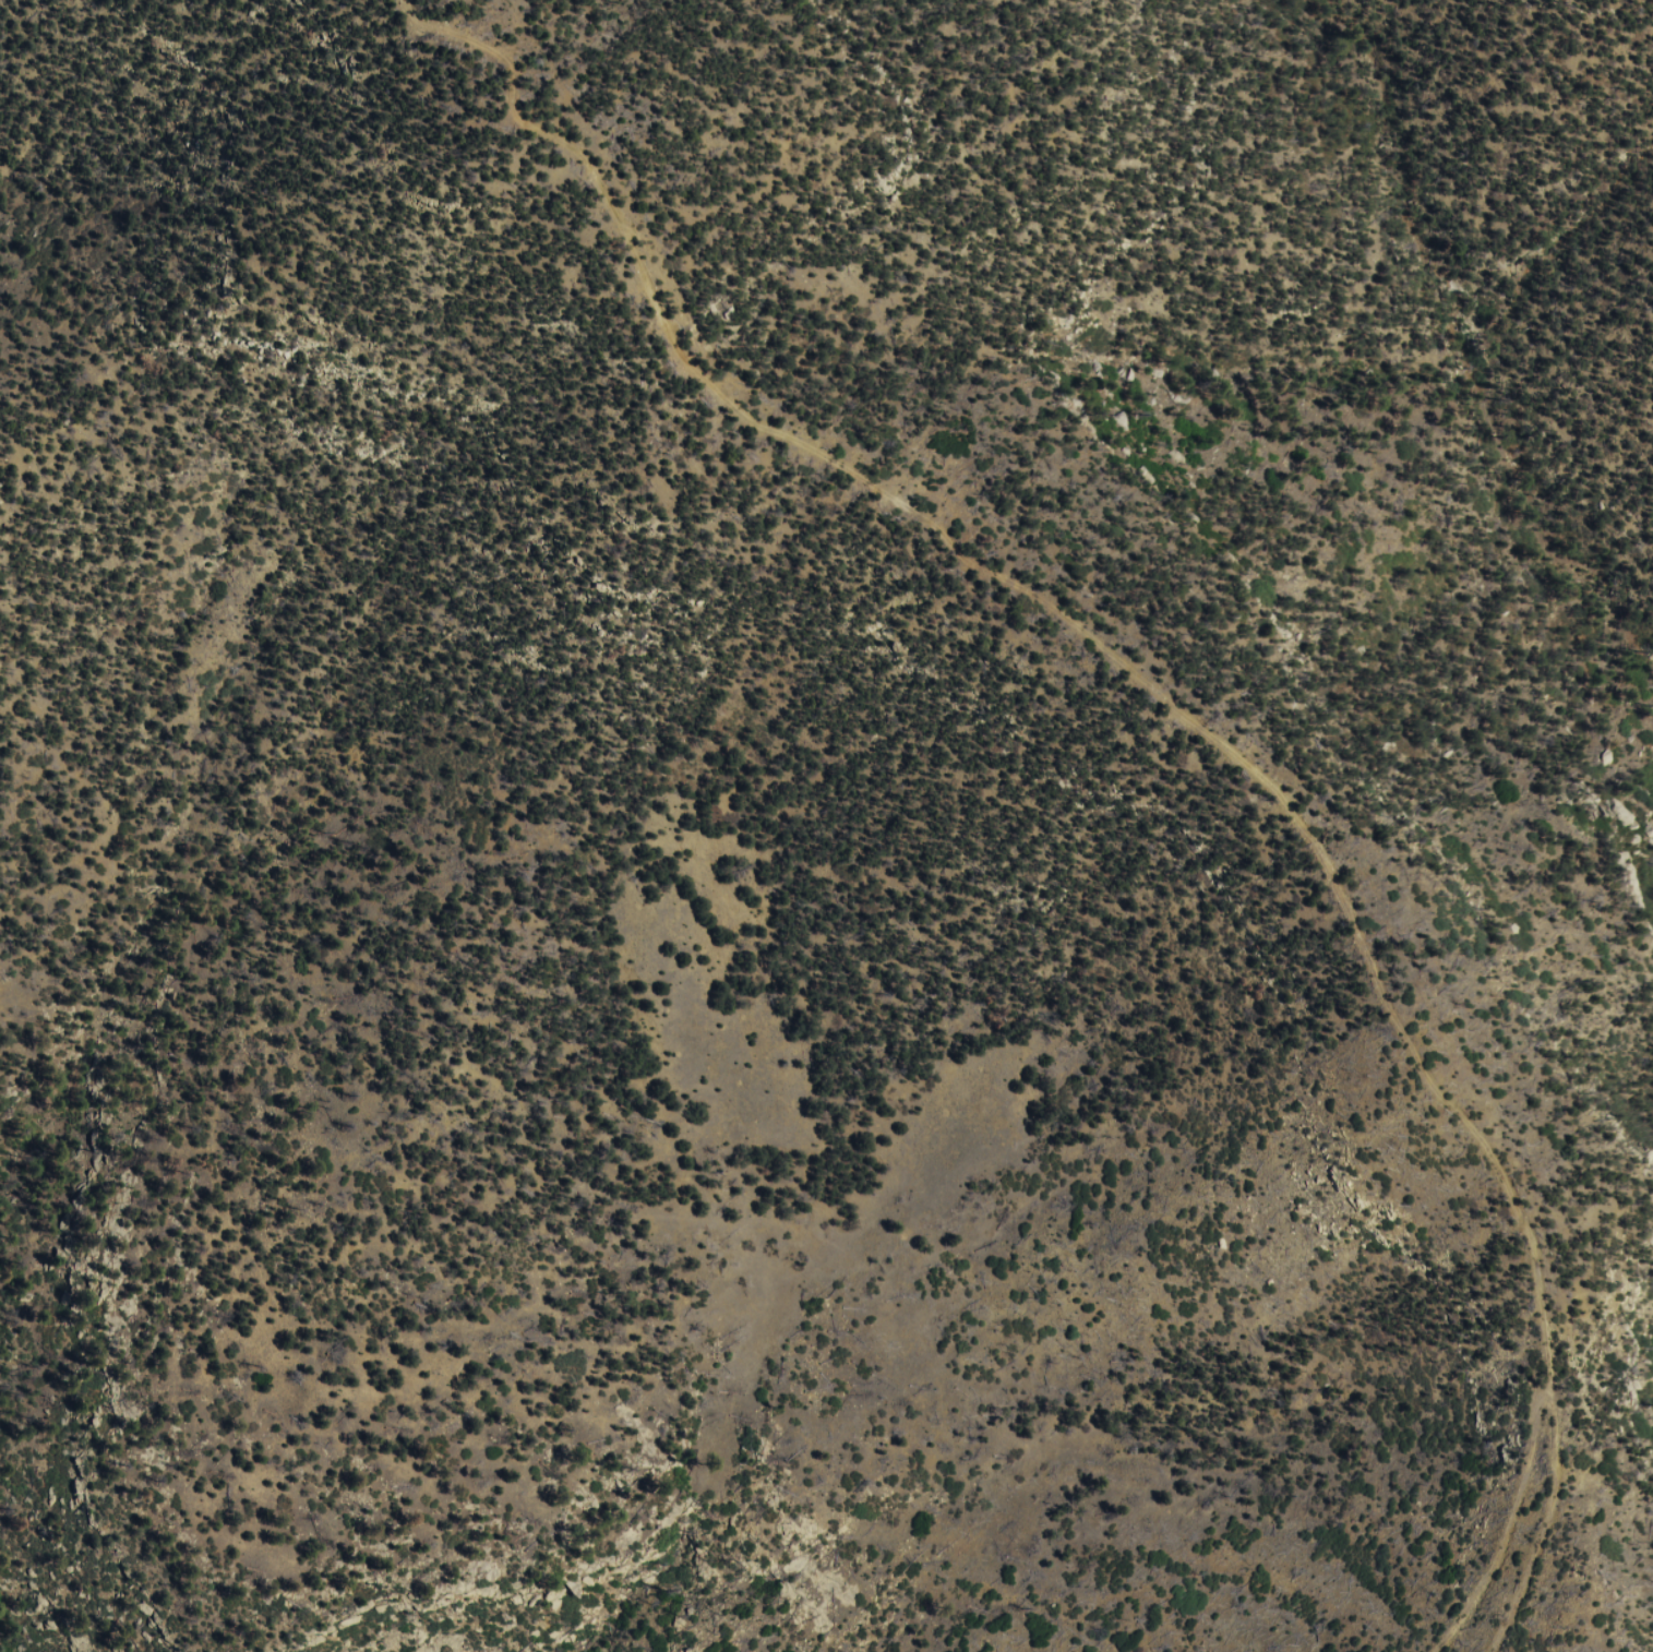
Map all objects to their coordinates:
road: (1062, 615)
road: (1536, 1529)
road: (1502, 1531)

